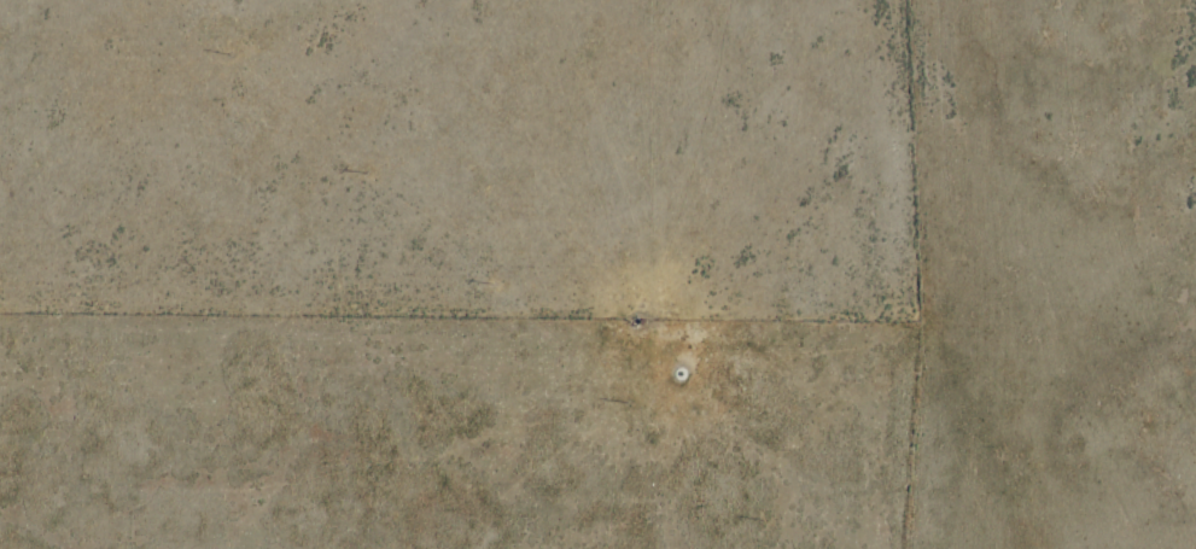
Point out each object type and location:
crop: (1048, 271)

